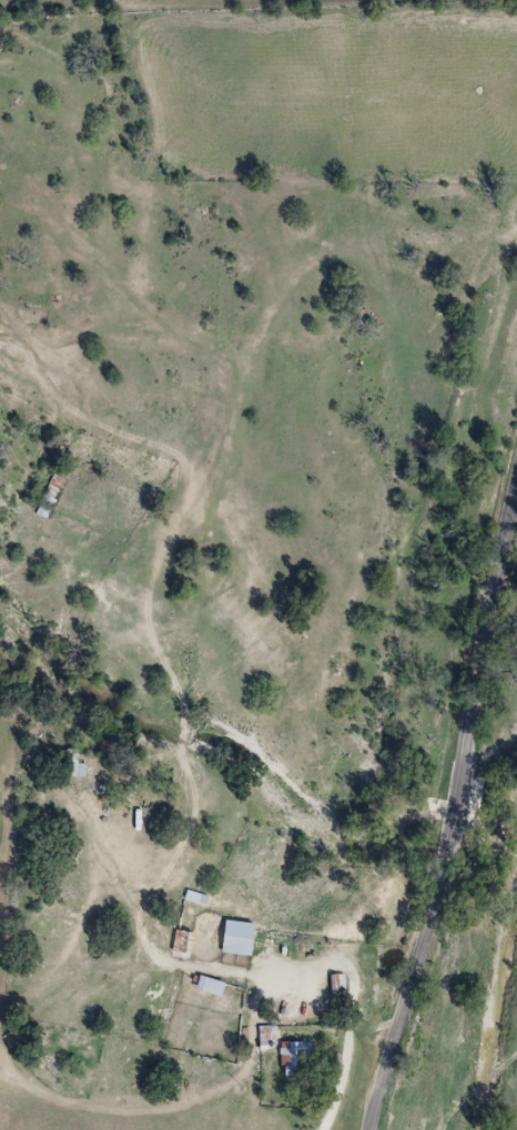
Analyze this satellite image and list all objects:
building: (75, 762)
road: (456, 815)
building: (202, 895)
building: (245, 936)
building: (187, 938)
building: (307, 1057)

